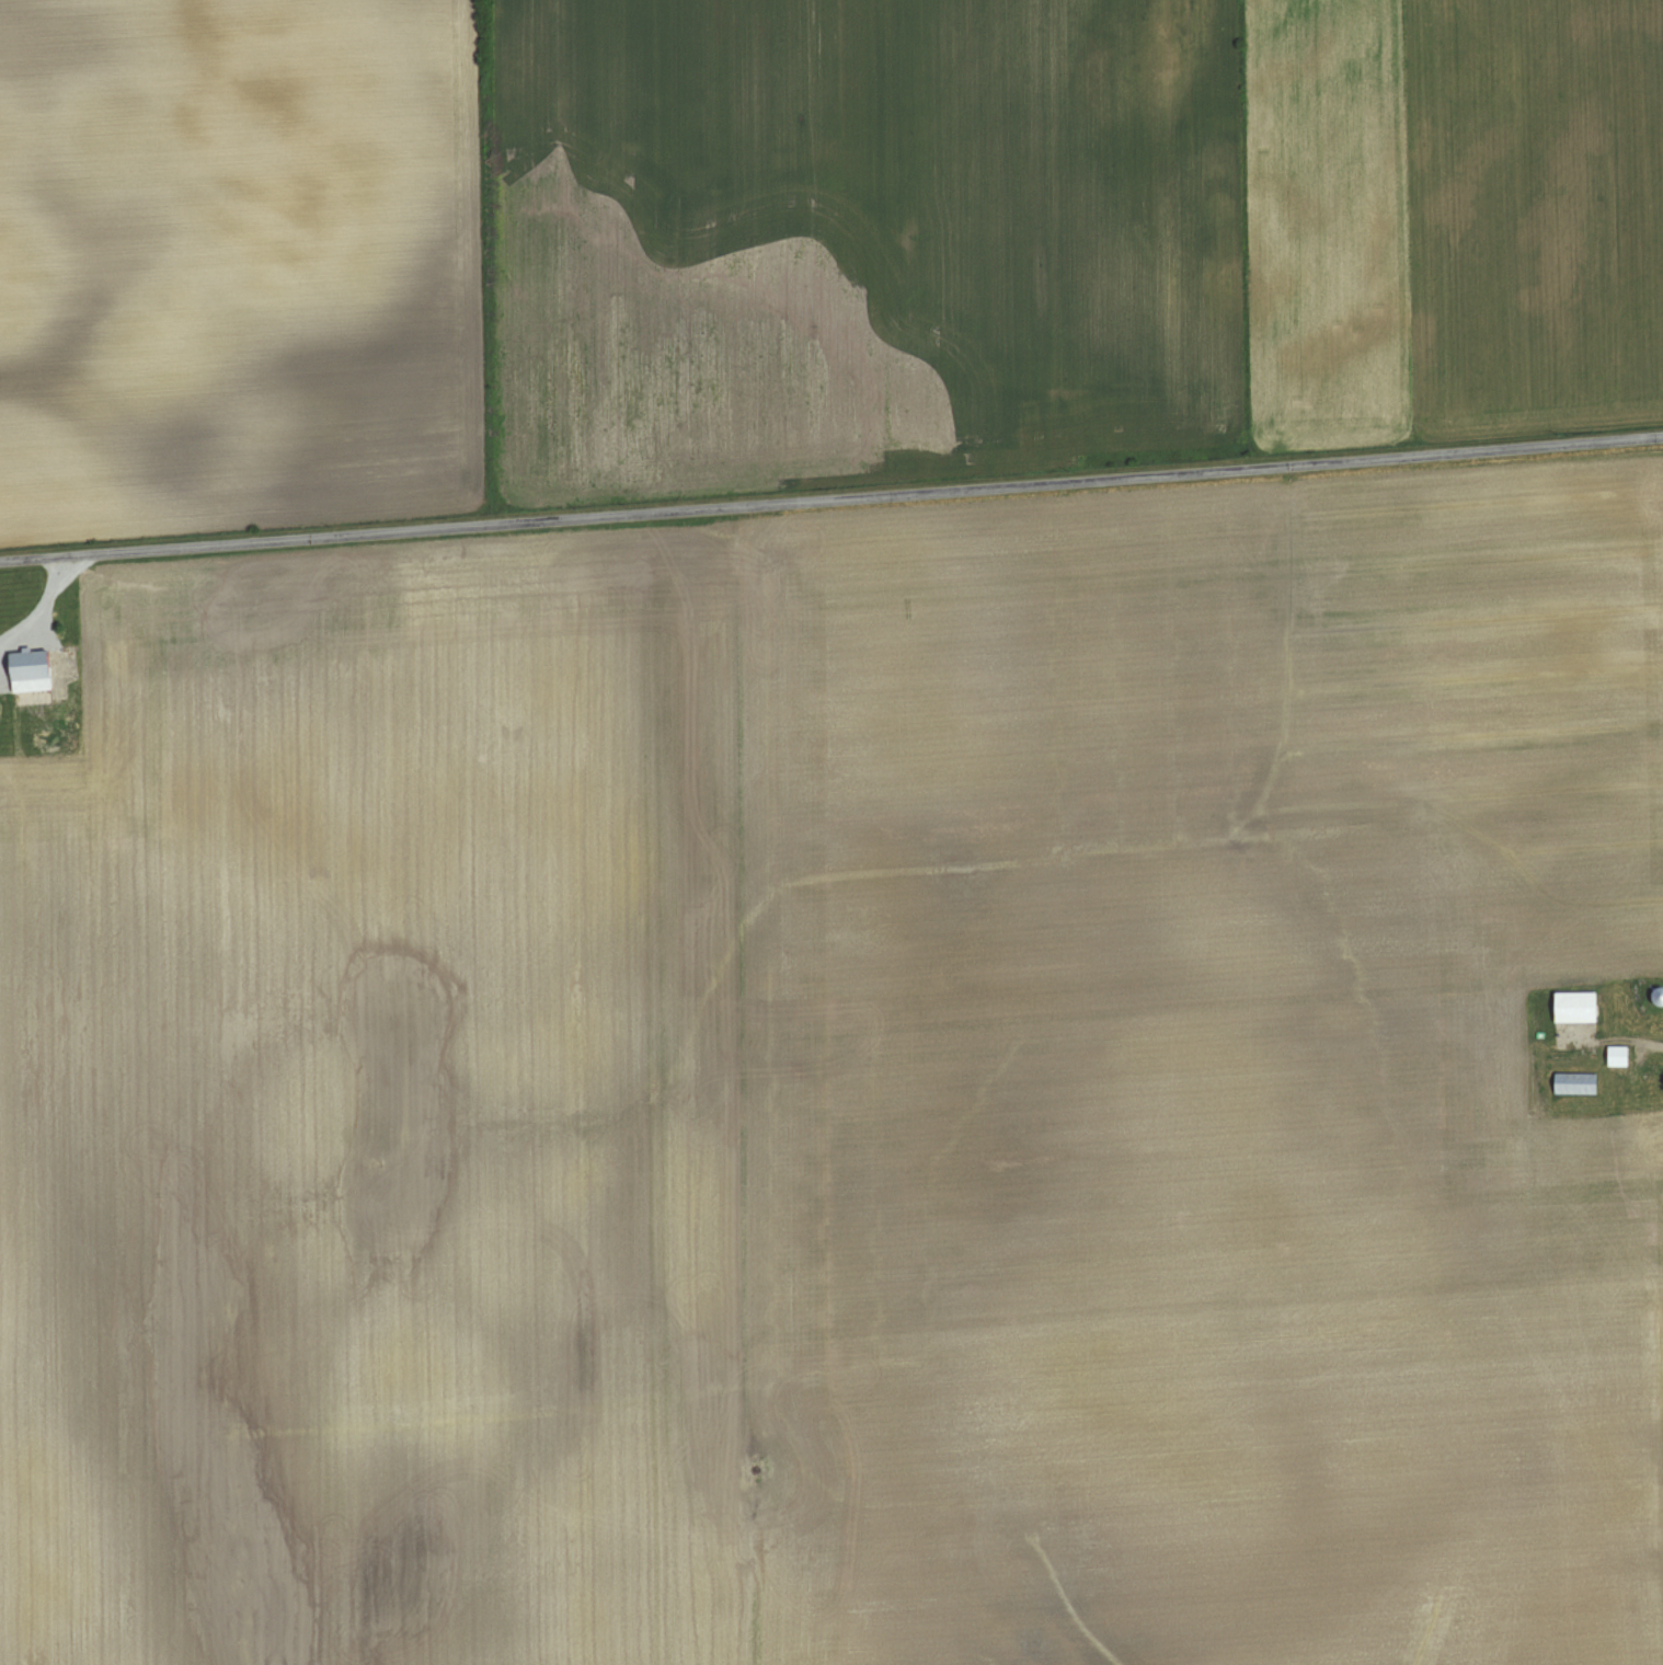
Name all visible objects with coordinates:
road: (831, 497)
road: (36, 608)
building: (25, 674)
road: (1656, 1048)
building: (1617, 1057)
building: (1574, 1083)

